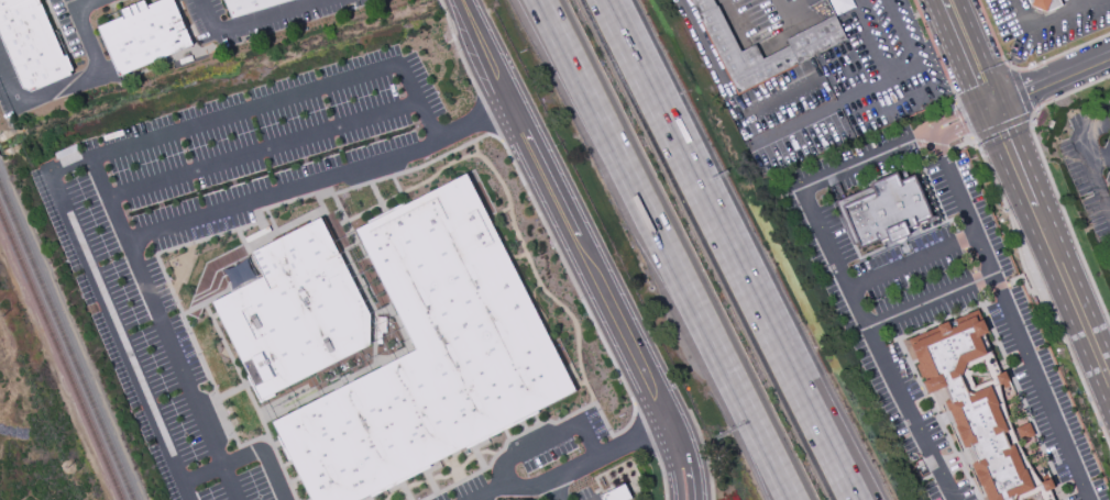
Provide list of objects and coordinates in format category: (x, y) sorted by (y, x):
road: (74, 4)
road: (85, 4)
building: (1045, 4)
building: (248, 5)
road: (788, 13)
road: (251, 18)
road: (1051, 18)
road: (735, 21)
building: (143, 34)
road: (904, 41)
building: (31, 44)
road: (869, 47)
building: (805, 48)
road: (966, 49)
road: (713, 55)
road: (1049, 81)
road: (851, 82)
road: (67, 85)
road: (791, 85)
road: (892, 93)
road: (988, 103)
traffic signals: (990, 108)
road: (991, 112)
road: (956, 113)
road: (805, 116)
road: (1024, 118)
road: (477, 120)
road: (748, 125)
road: (964, 130)
road: (971, 142)
road: (680, 144)
road: (263, 147)
road: (939, 153)
road: (1097, 154)
road: (1087, 159)
road: (867, 160)
road: (92, 164)
parking lot: (1085, 166)
road: (1051, 180)
road: (1108, 205)
building: (889, 210)
road: (931, 226)
road: (954, 226)
road: (589, 247)
road: (565, 248)
road: (668, 249)
road: (1051, 254)
road: (912, 260)
road: (970, 263)
road: (1022, 277)
road: (1031, 286)
road: (998, 289)
road: (982, 292)
road: (931, 300)
building: (295, 311)
road: (1011, 316)
road: (110, 318)
railway: (67, 342)
road: (878, 343)
building: (430, 354)
railway: (61, 356)
road: (182, 369)
building: (1001, 377)
road: (806, 395)
road: (811, 395)
building: (971, 404)
building: (1025, 434)
road: (550, 440)
road: (604, 453)
road: (245, 454)
road: (510, 480)
building: (617, 495)

